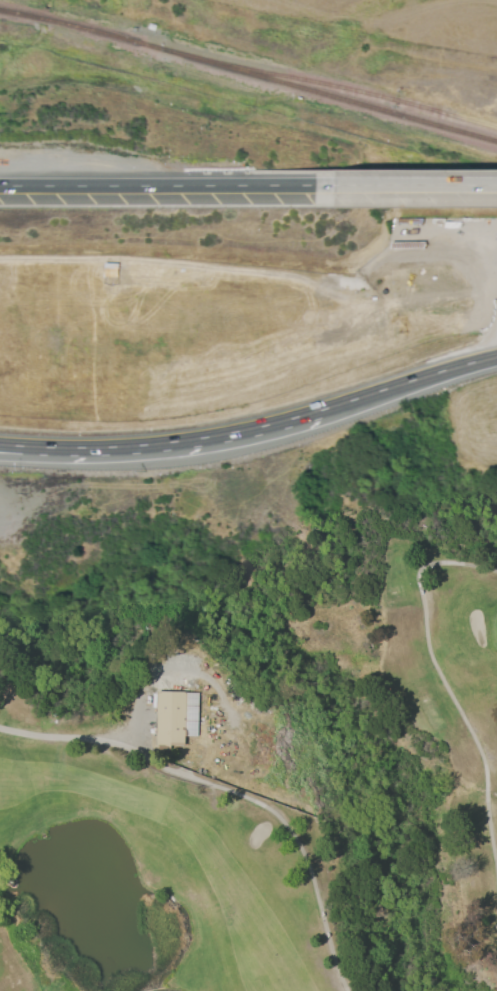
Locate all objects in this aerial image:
railway: (249, 73)
railway: (329, 85)
road: (158, 185)
road: (407, 185)
road: (496, 258)
road: (410, 381)
road: (233, 432)
road: (70, 448)
road: (71, 452)
park: (255, 705)
road: (137, 712)
building: (173, 716)

